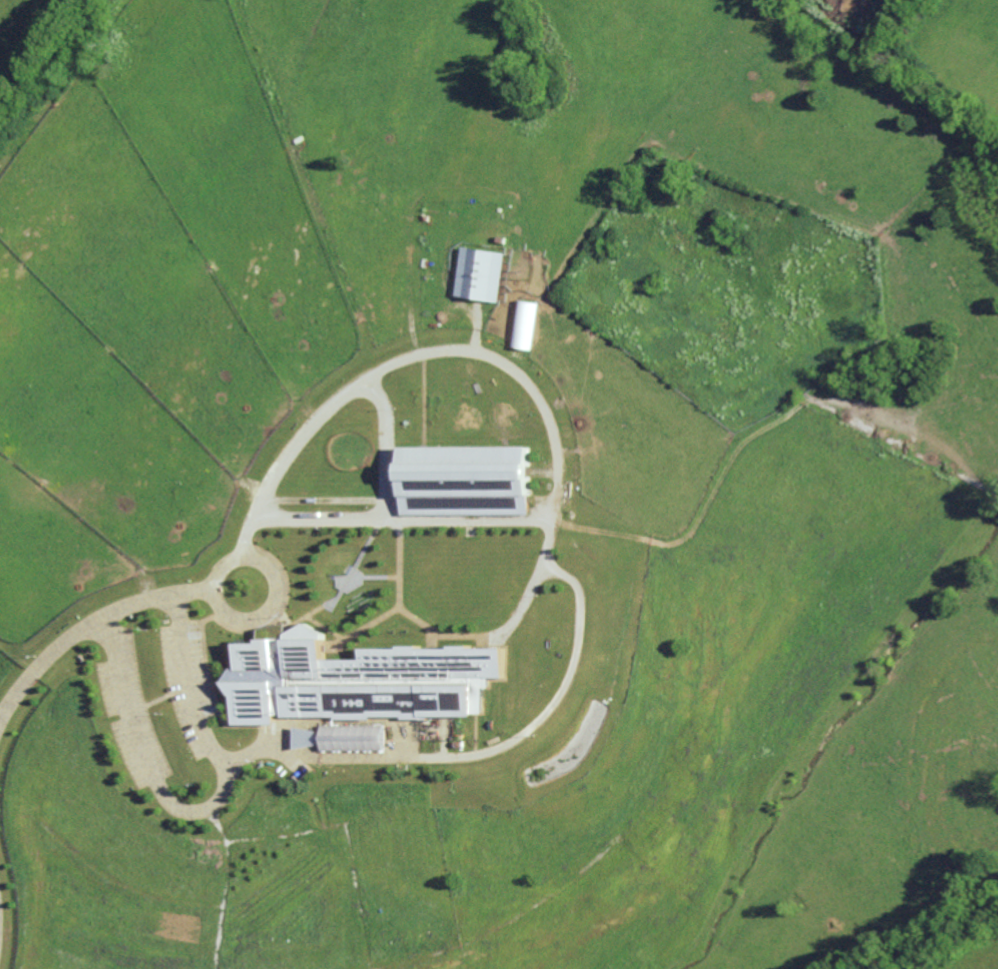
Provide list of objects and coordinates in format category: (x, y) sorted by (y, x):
building: (481, 274)
building: (525, 324)
road: (467, 351)
building: (464, 480)
road: (385, 503)
road: (253, 558)
road: (87, 622)
building: (357, 680)
road: (561, 692)
building: (305, 737)
building: (352, 737)
road: (202, 810)

